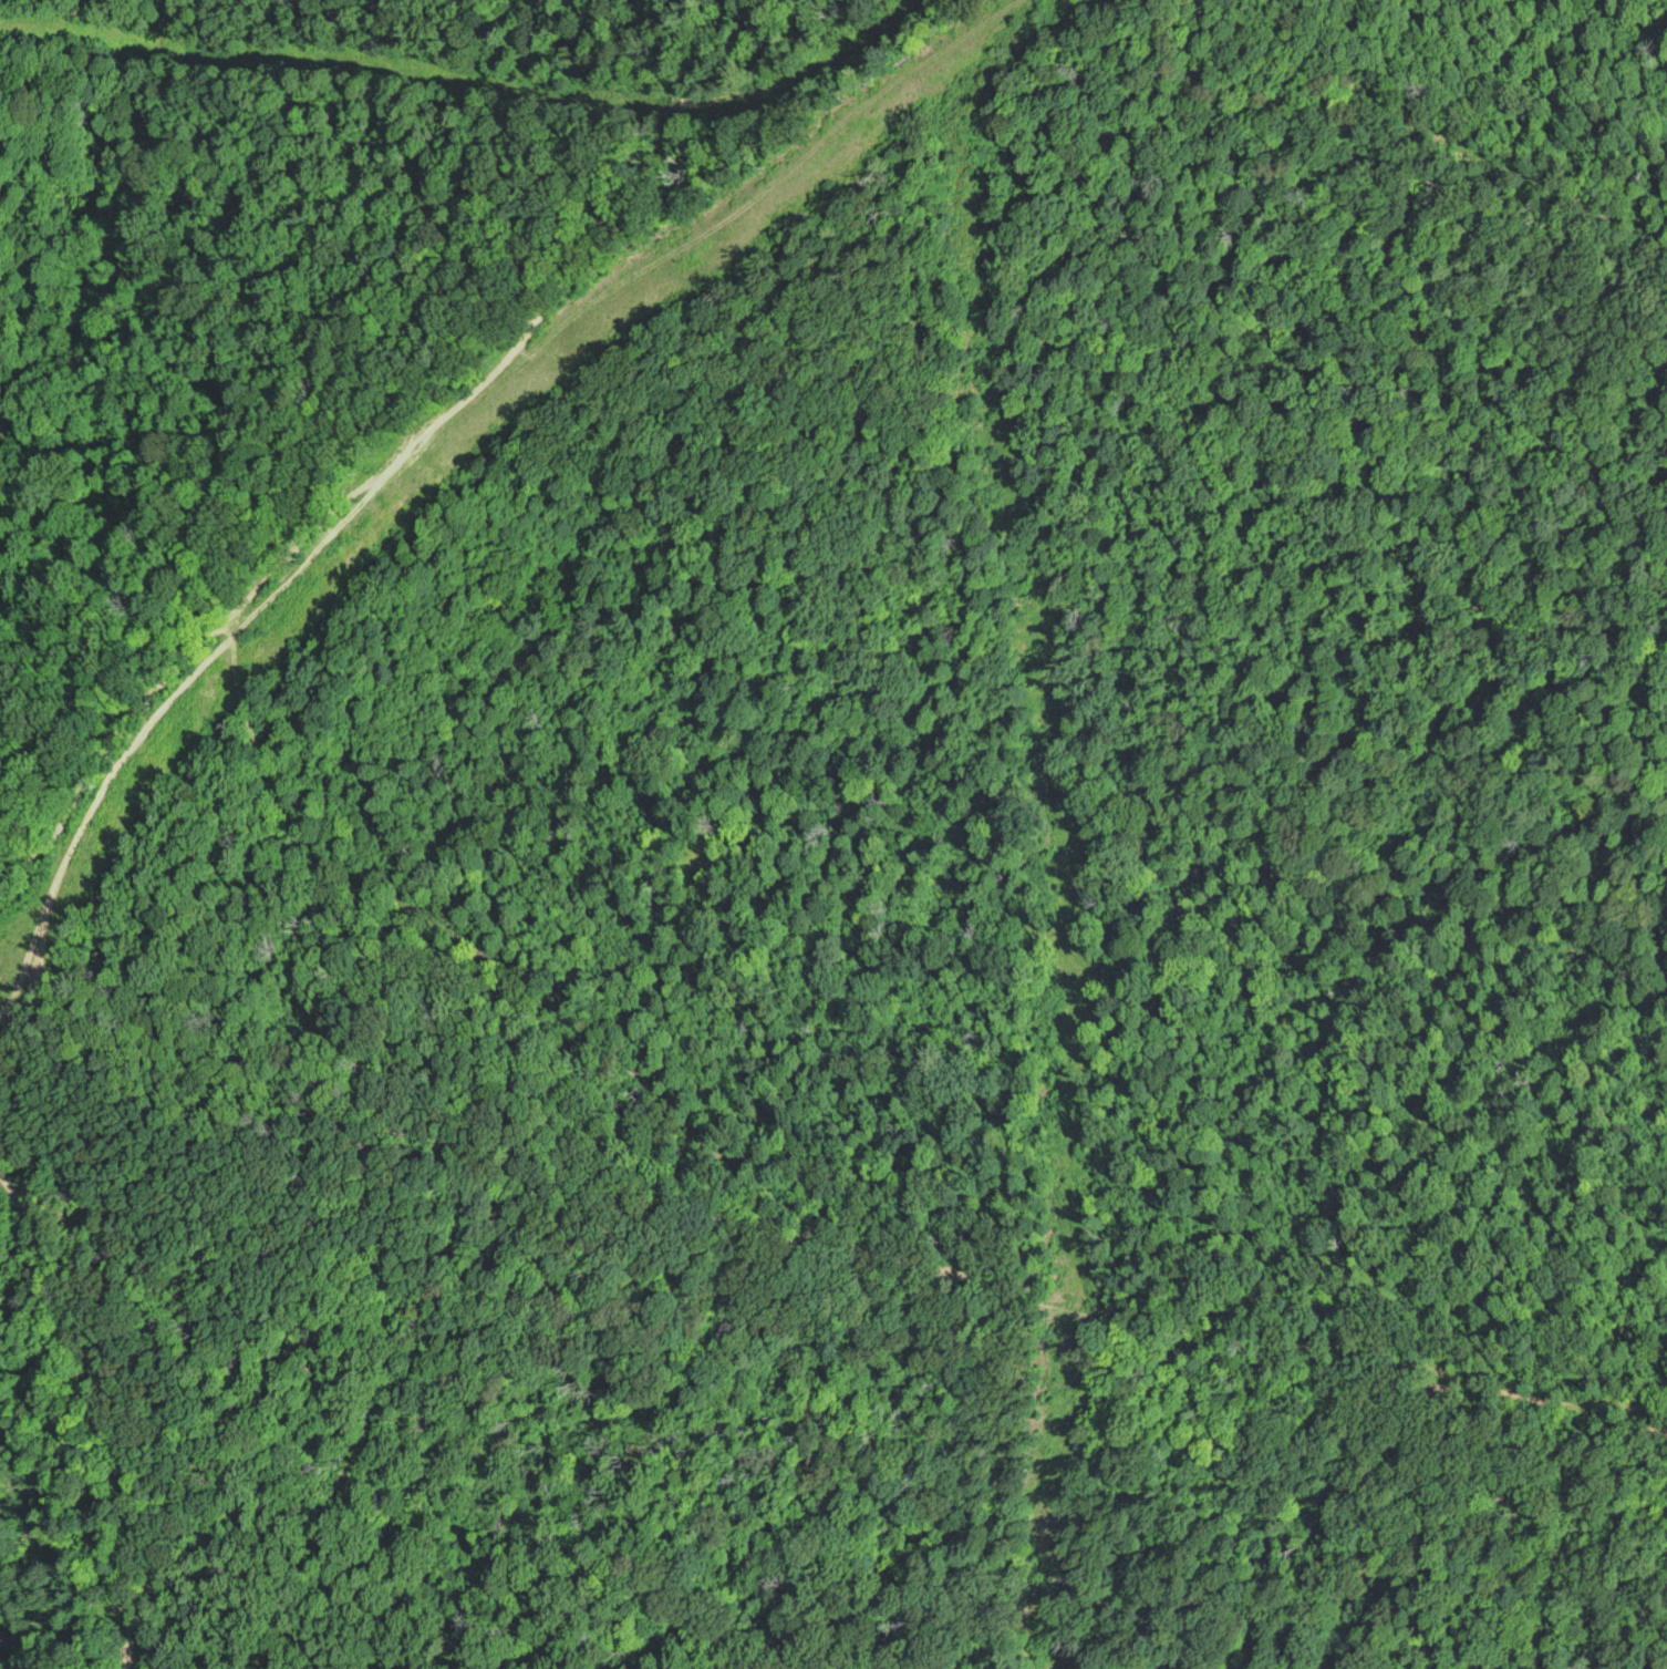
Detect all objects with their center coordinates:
road: (395, 443)
road: (92, 1472)

